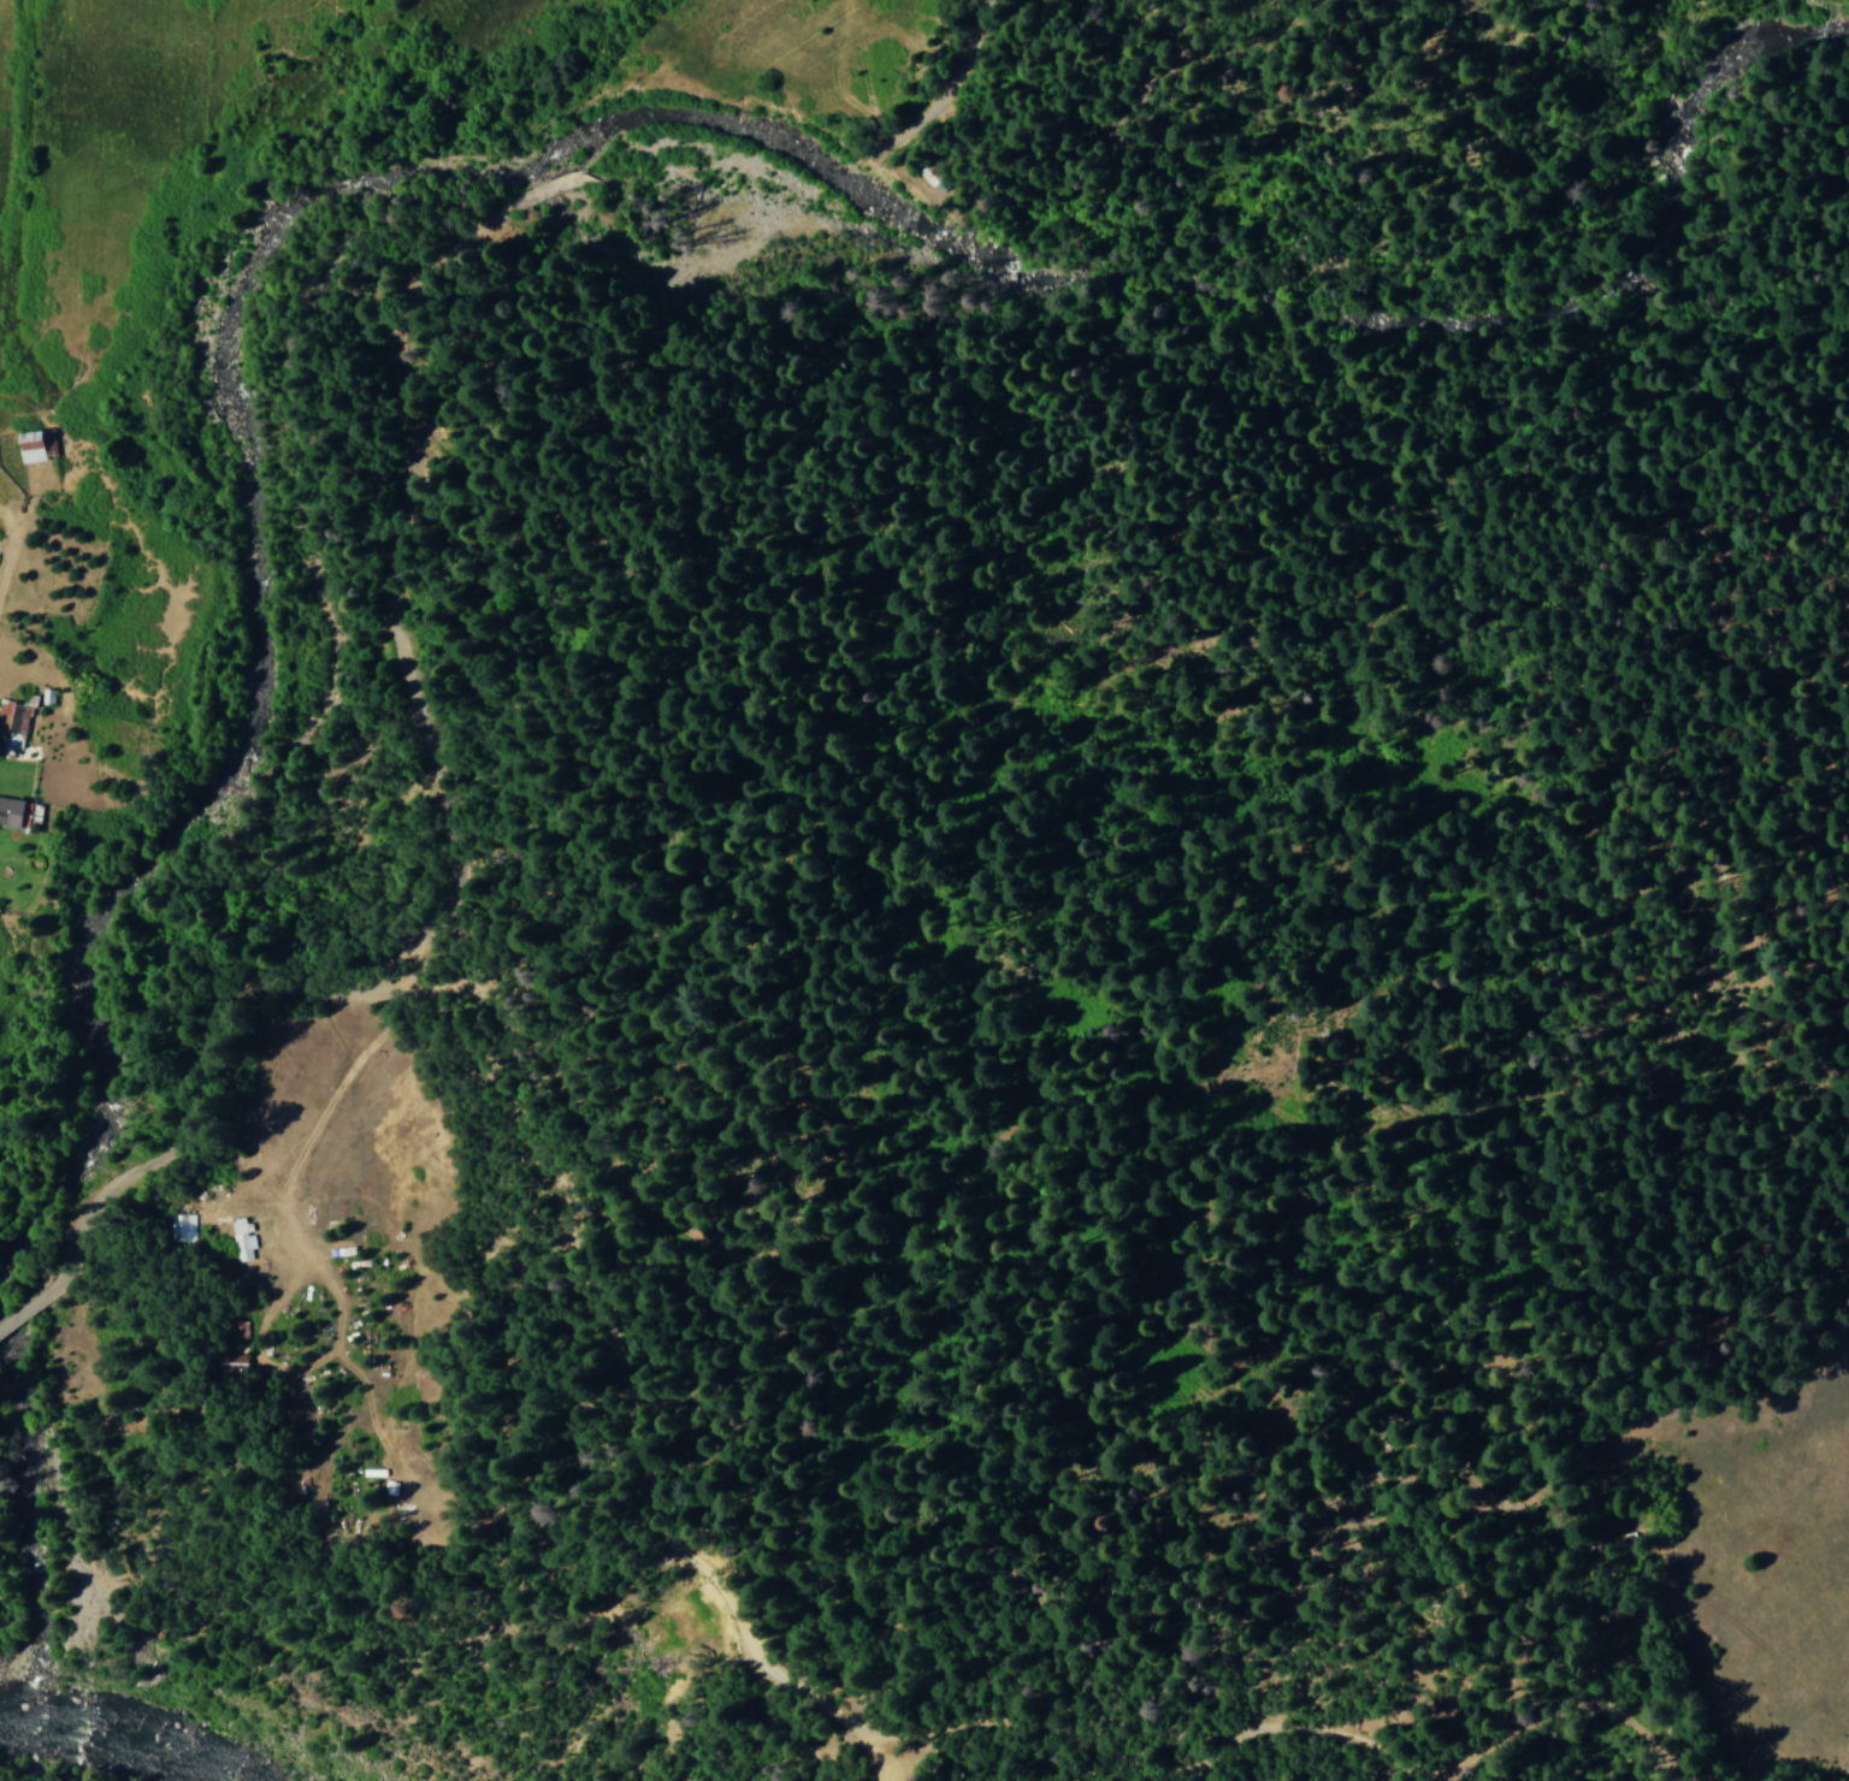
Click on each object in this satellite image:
road: (420, 315)
building: (33, 446)
building: (12, 723)
building: (13, 813)
road: (265, 1218)
building: (181, 1229)
building: (240, 1242)
road: (26, 1308)
road: (6, 1323)
building: (231, 1367)
road: (626, 1520)
river: (94, 1734)
road: (1381, 1750)
road: (1848, 1773)

